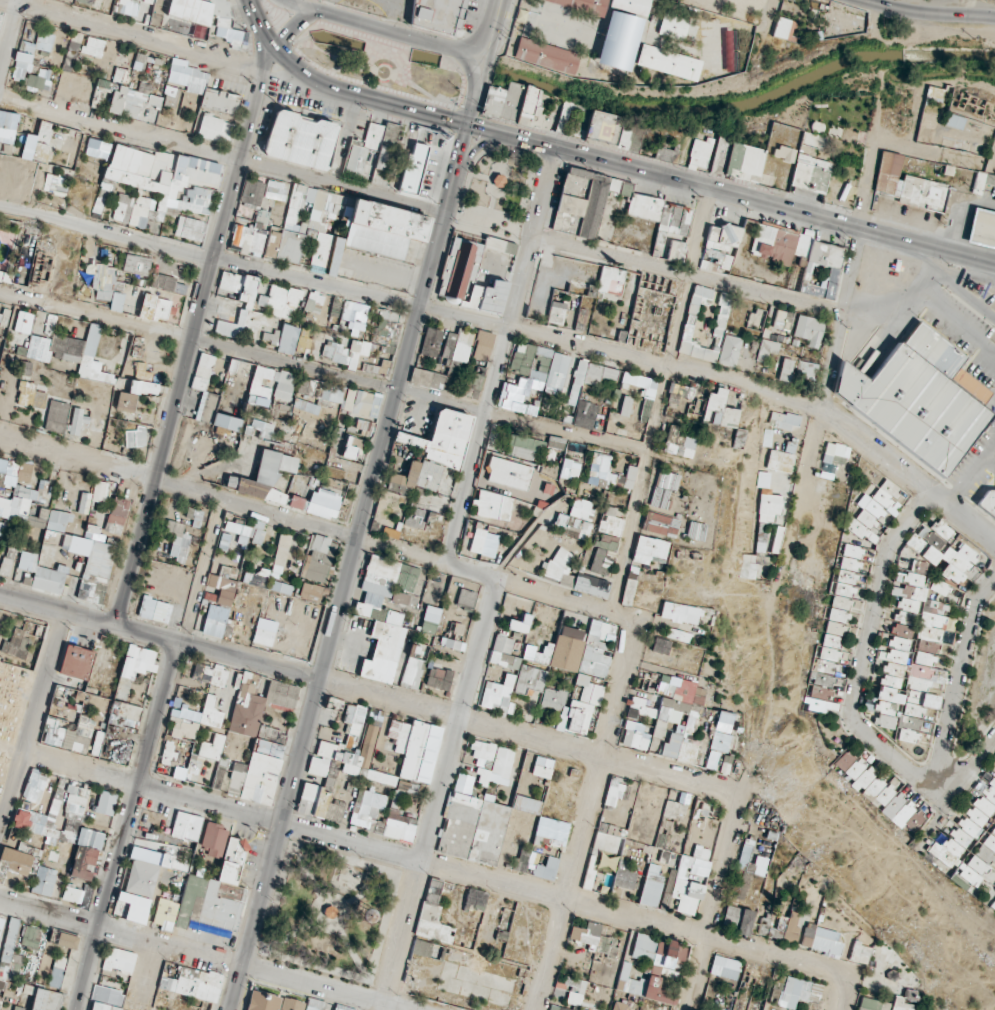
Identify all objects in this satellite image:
park: (381, 64)
park: (496, 187)
parking lot: (964, 335)
parking lot: (991, 414)
parking lot: (979, 473)
park: (10, 703)
park: (329, 914)

